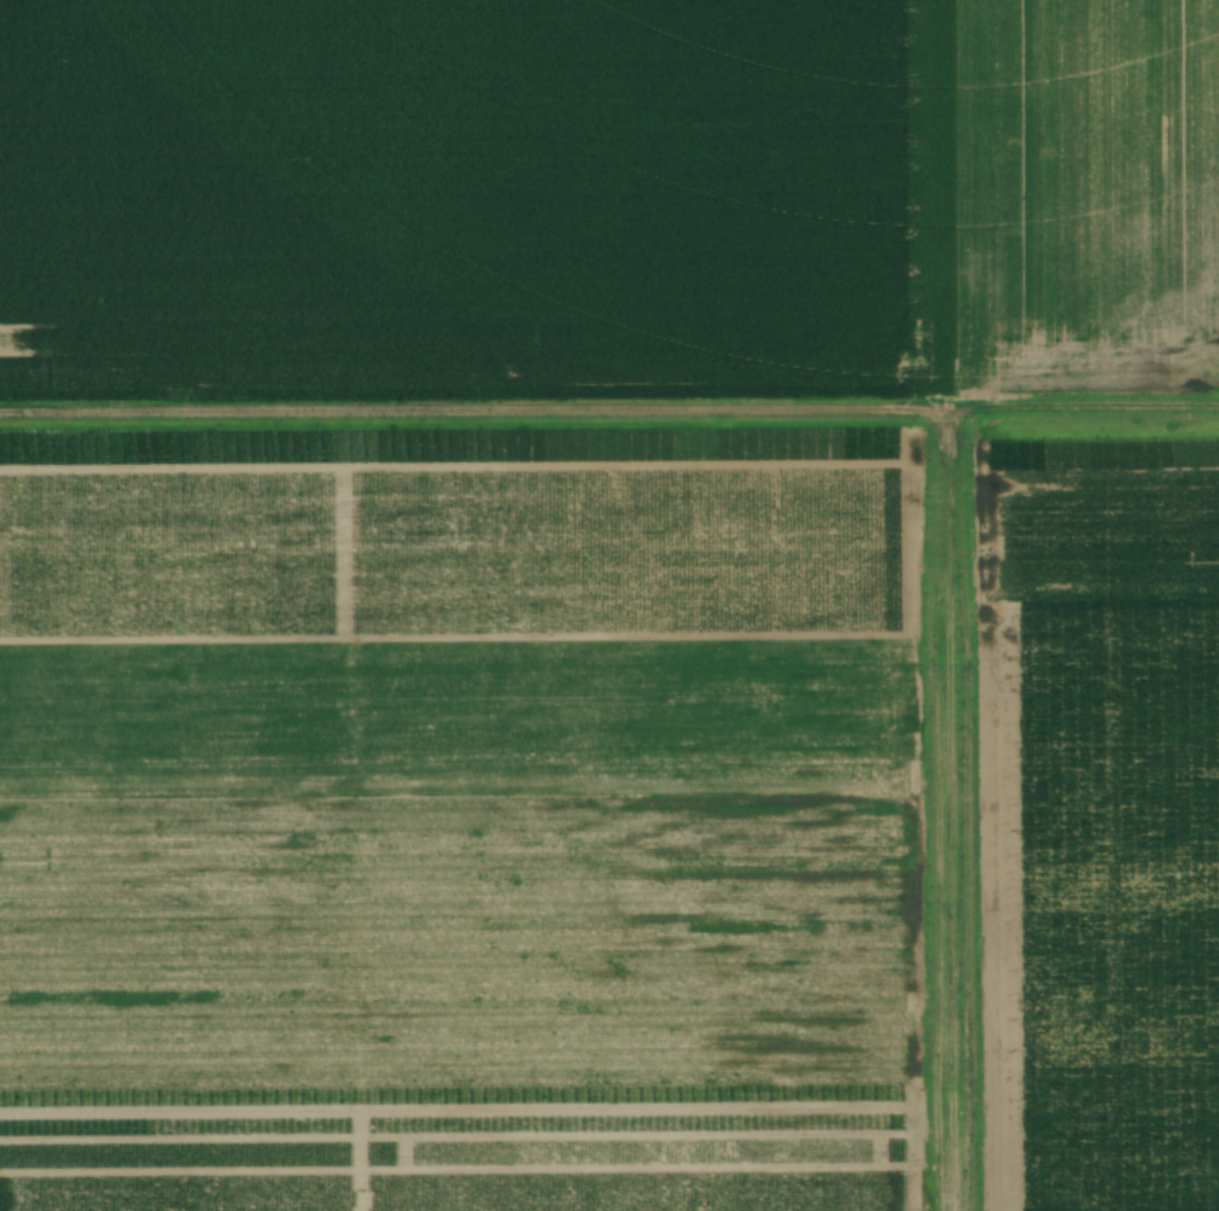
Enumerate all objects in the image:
building: (387, 535)

